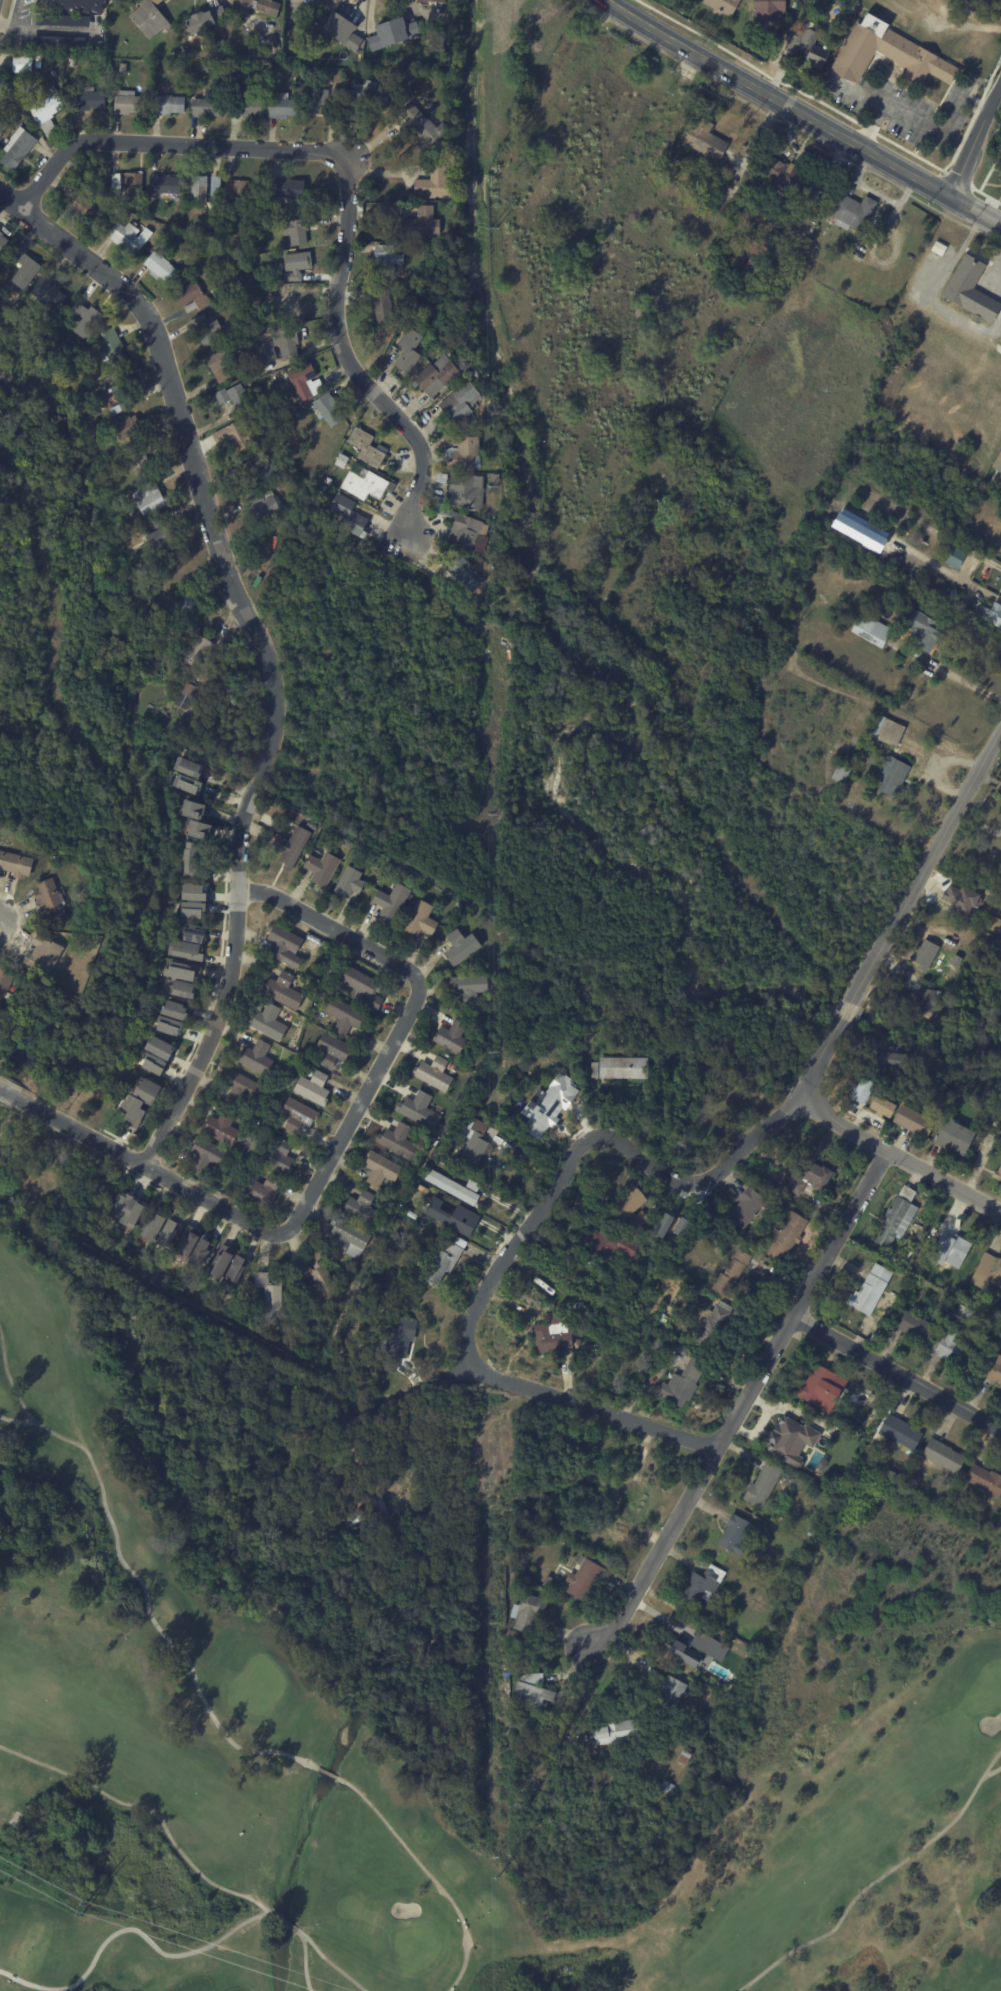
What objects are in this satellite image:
building: (430, 0)
building: (695, 0)
building: (692, 1)
building: (244, 2)
building: (80, 4)
building: (721, 6)
building: (268, 7)
building: (681, 9)
building: (767, 9)
road: (11, 13)
building: (150, 18)
building: (205, 19)
road: (47, 28)
building: (337, 28)
building: (392, 32)
building: (827, 34)
building: (806, 46)
building: (891, 50)
building: (39, 62)
building: (73, 64)
building: (24, 66)
building: (206, 69)
building: (124, 70)
building: (253, 71)
building: (55, 75)
building: (19, 87)
building: (3, 90)
building: (369, 98)
building: (89, 101)
building: (320, 103)
building: (132, 104)
building: (171, 106)
building: (247, 108)
building: (288, 108)
building: (208, 109)
building: (48, 110)
road: (812, 110)
road: (924, 124)
building: (429, 127)
building: (3, 128)
building: (705, 138)
road: (976, 139)
building: (20, 149)
building: (784, 175)
building: (114, 181)
road: (349, 181)
building: (167, 183)
building: (136, 184)
building: (218, 184)
building: (438, 184)
building: (199, 187)
building: (289, 187)
building: (243, 190)
building: (182, 200)
building: (84, 203)
building: (853, 210)
building: (108, 224)
building: (425, 224)
power tower: (492, 226)
building: (300, 228)
building: (129, 236)
building: (3, 242)
building: (763, 243)
building: (938, 246)
building: (202, 249)
building: (389, 260)
building: (757, 263)
building: (162, 265)
building: (297, 265)
building: (28, 268)
building: (970, 290)
building: (51, 291)
building: (189, 293)
building: (287, 301)
building: (383, 302)
building: (192, 306)
building: (88, 319)
building: (412, 320)
building: (206, 328)
building: (246, 340)
building: (288, 340)
building: (114, 347)
building: (268, 350)
building: (410, 351)
building: (220, 364)
building: (440, 376)
building: (306, 381)
building: (121, 389)
building: (235, 396)
building: (462, 404)
building: (121, 407)
building: (330, 408)
road: (180, 415)
building: (279, 426)
building: (131, 429)
building: (240, 434)
building: (99, 446)
building: (368, 446)
building: (465, 453)
building: (145, 459)
building: (998, 461)
building: (344, 462)
building: (253, 469)
building: (367, 483)
power tower: (493, 487)
building: (469, 491)
building: (151, 499)
building: (263, 505)
building: (441, 508)
building: (352, 514)
building: (163, 532)
building: (470, 532)
building: (954, 557)
building: (464, 575)
building: (952, 595)
building: (190, 607)
building: (994, 614)
building: (872, 630)
building: (920, 630)
building: (200, 651)
road: (964, 680)
building: (188, 696)
building: (886, 730)
building: (193, 766)
building: (839, 771)
building: (890, 776)
building: (192, 782)
building: (196, 809)
power tower: (494, 813)
building: (202, 828)
building: (293, 846)
building: (190, 858)
building: (16, 863)
road: (926, 868)
building: (323, 869)
building: (350, 883)
building: (194, 891)
building: (959, 899)
building: (53, 901)
building: (394, 902)
building: (463, 904)
building: (191, 909)
building: (423, 920)
road: (332, 927)
building: (198, 932)
road: (236, 938)
building: (287, 946)
building: (463, 947)
building: (191, 950)
building: (46, 954)
building: (922, 954)
building: (953, 960)
building: (950, 970)
building: (186, 979)
building: (6, 981)
building: (365, 987)
building: (472, 987)
building: (286, 990)
building: (916, 1000)
building: (177, 1010)
road: (846, 1012)
building: (346, 1016)
building: (271, 1023)
building: (332, 1024)
building: (171, 1025)
building: (1, 1034)
building: (454, 1037)
building: (159, 1047)
building: (336, 1050)
power tower: (494, 1051)
building: (258, 1058)
road: (820, 1058)
building: (888, 1060)
building: (153, 1063)
building: (575, 1068)
building: (627, 1068)
building: (597, 1070)
building: (436, 1073)
building: (245, 1088)
building: (315, 1088)
building: (858, 1091)
road: (13, 1093)
building: (143, 1101)
building: (879, 1107)
road: (355, 1110)
building: (421, 1110)
building: (300, 1116)
building: (547, 1116)
building: (715, 1119)
building: (911, 1122)
building: (223, 1127)
road: (589, 1135)
building: (951, 1137)
building: (478, 1141)
building: (402, 1142)
building: (208, 1156)
building: (279, 1156)
road: (903, 1158)
road: (153, 1168)
building: (383, 1170)
building: (997, 1173)
building: (813, 1178)
building: (423, 1183)
building: (451, 1187)
building: (266, 1192)
building: (649, 1205)
building: (637, 1206)
building: (750, 1207)
building: (127, 1208)
building: (363, 1208)
building: (452, 1216)
building: (893, 1217)
building: (157, 1228)
building: (191, 1228)
building: (173, 1233)
building: (791, 1233)
building: (351, 1238)
building: (191, 1245)
building: (618, 1245)
building: (952, 1249)
building: (206, 1251)
building: (447, 1261)
building: (224, 1265)
building: (240, 1269)
building: (989, 1270)
building: (733, 1273)
building: (324, 1281)
building: (313, 1286)
building: (868, 1290)
building: (272, 1298)
building: (621, 1304)
power tower: (494, 1312)
building: (962, 1314)
building: (719, 1326)
building: (910, 1326)
building: (555, 1335)
building: (402, 1342)
building: (952, 1348)
building: (992, 1369)
road: (899, 1370)
building: (684, 1384)
building: (820, 1389)
road: (748, 1399)
road: (363, 1403)
road: (591, 1408)
building: (841, 1422)
building: (897, 1435)
building: (790, 1439)
building: (942, 1456)
building: (411, 1461)
building: (889, 1475)
building: (326, 1480)
building: (984, 1481)
building: (767, 1485)
building: (628, 1503)
building: (382, 1508)
building: (356, 1520)
building: (613, 1531)
building: (738, 1535)
building: (587, 1580)
building: (547, 1581)
building: (705, 1585)
road: (146, 1599)
park: (112, 1605)
building: (532, 1614)
building: (706, 1615)
power tower: (493, 1620)
building: (513, 1636)
building: (708, 1645)
building: (681, 1651)
park: (256, 1687)
park: (985, 1689)
building: (535, 1691)
building: (675, 1693)
building: (710, 1724)
building: (617, 1733)
building: (687, 1759)
road: (328, 1772)
building: (670, 1788)
road: (148, 1808)
road: (428, 1874)
power tower: (495, 1878)
road: (876, 1880)
power tower: (84, 1904)
power tower: (80, 1915)
road: (283, 1921)
road: (129, 1928)
park: (414, 1946)
road: (304, 1960)
road: (332, 1964)

